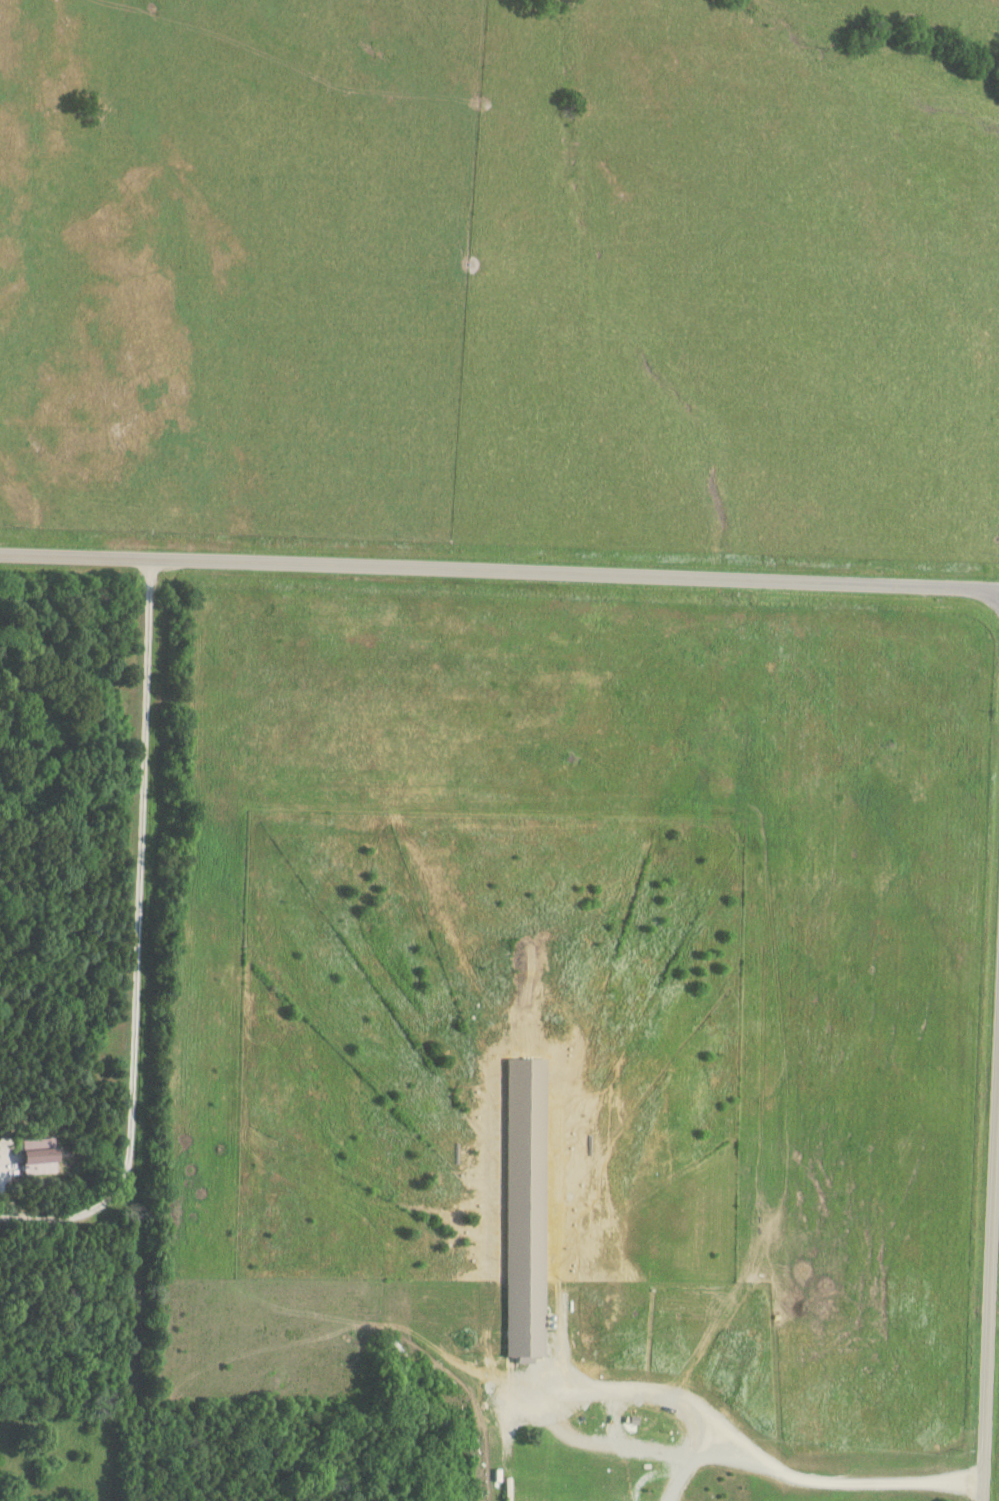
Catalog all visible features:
road: (499, 569)
road: (990, 1270)

